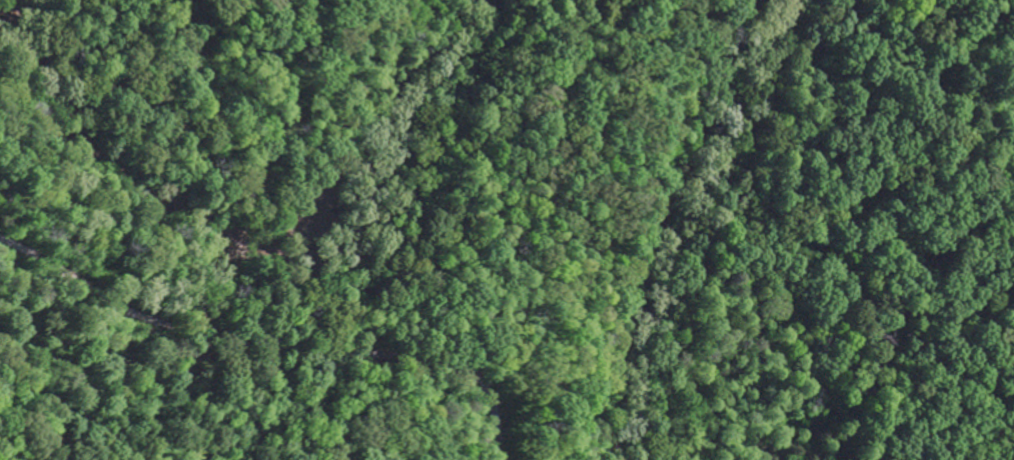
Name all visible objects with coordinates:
road: (271, 348)
road: (131, 411)

